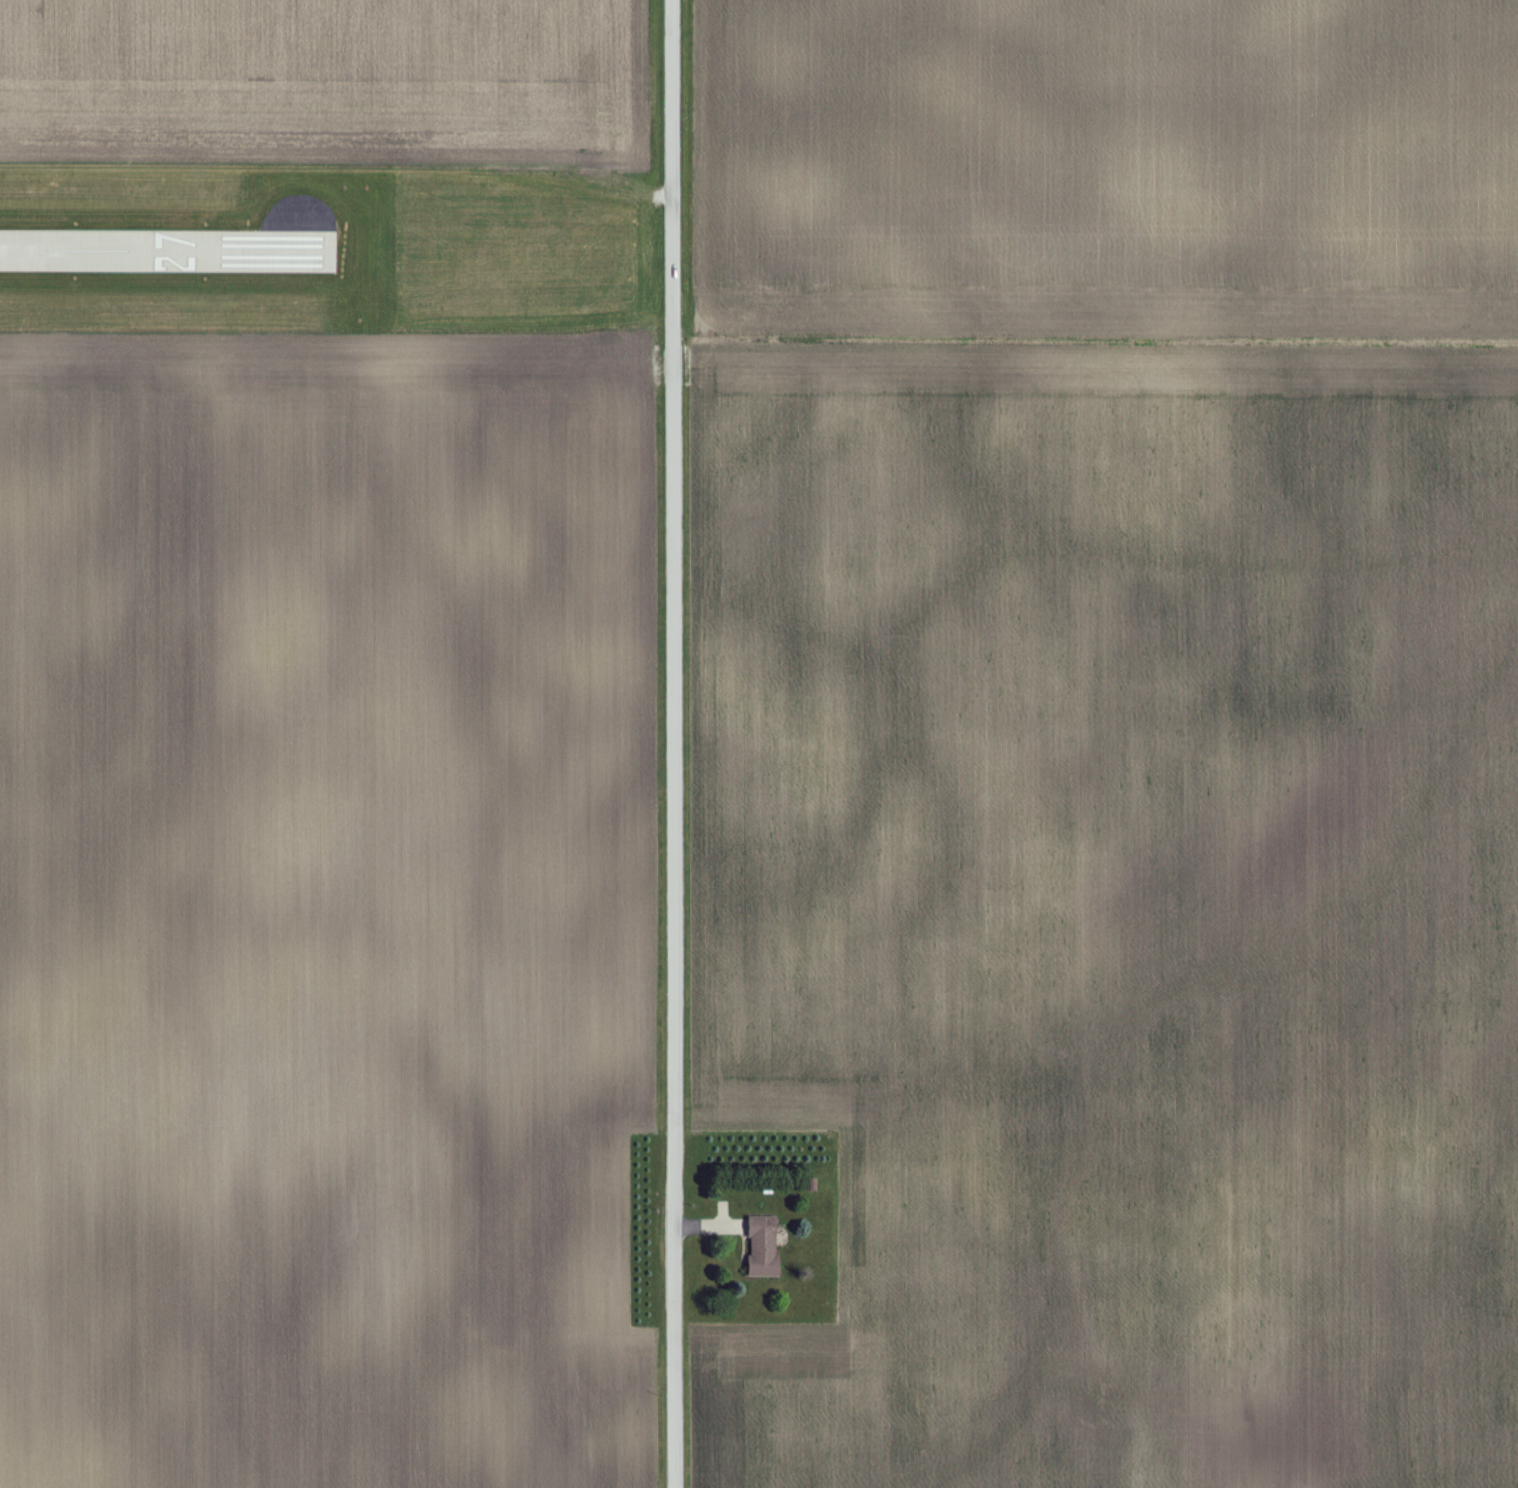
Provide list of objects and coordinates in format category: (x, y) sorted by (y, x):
airport: (309, 248)
airport runway: (163, 249)
road: (673, 744)

